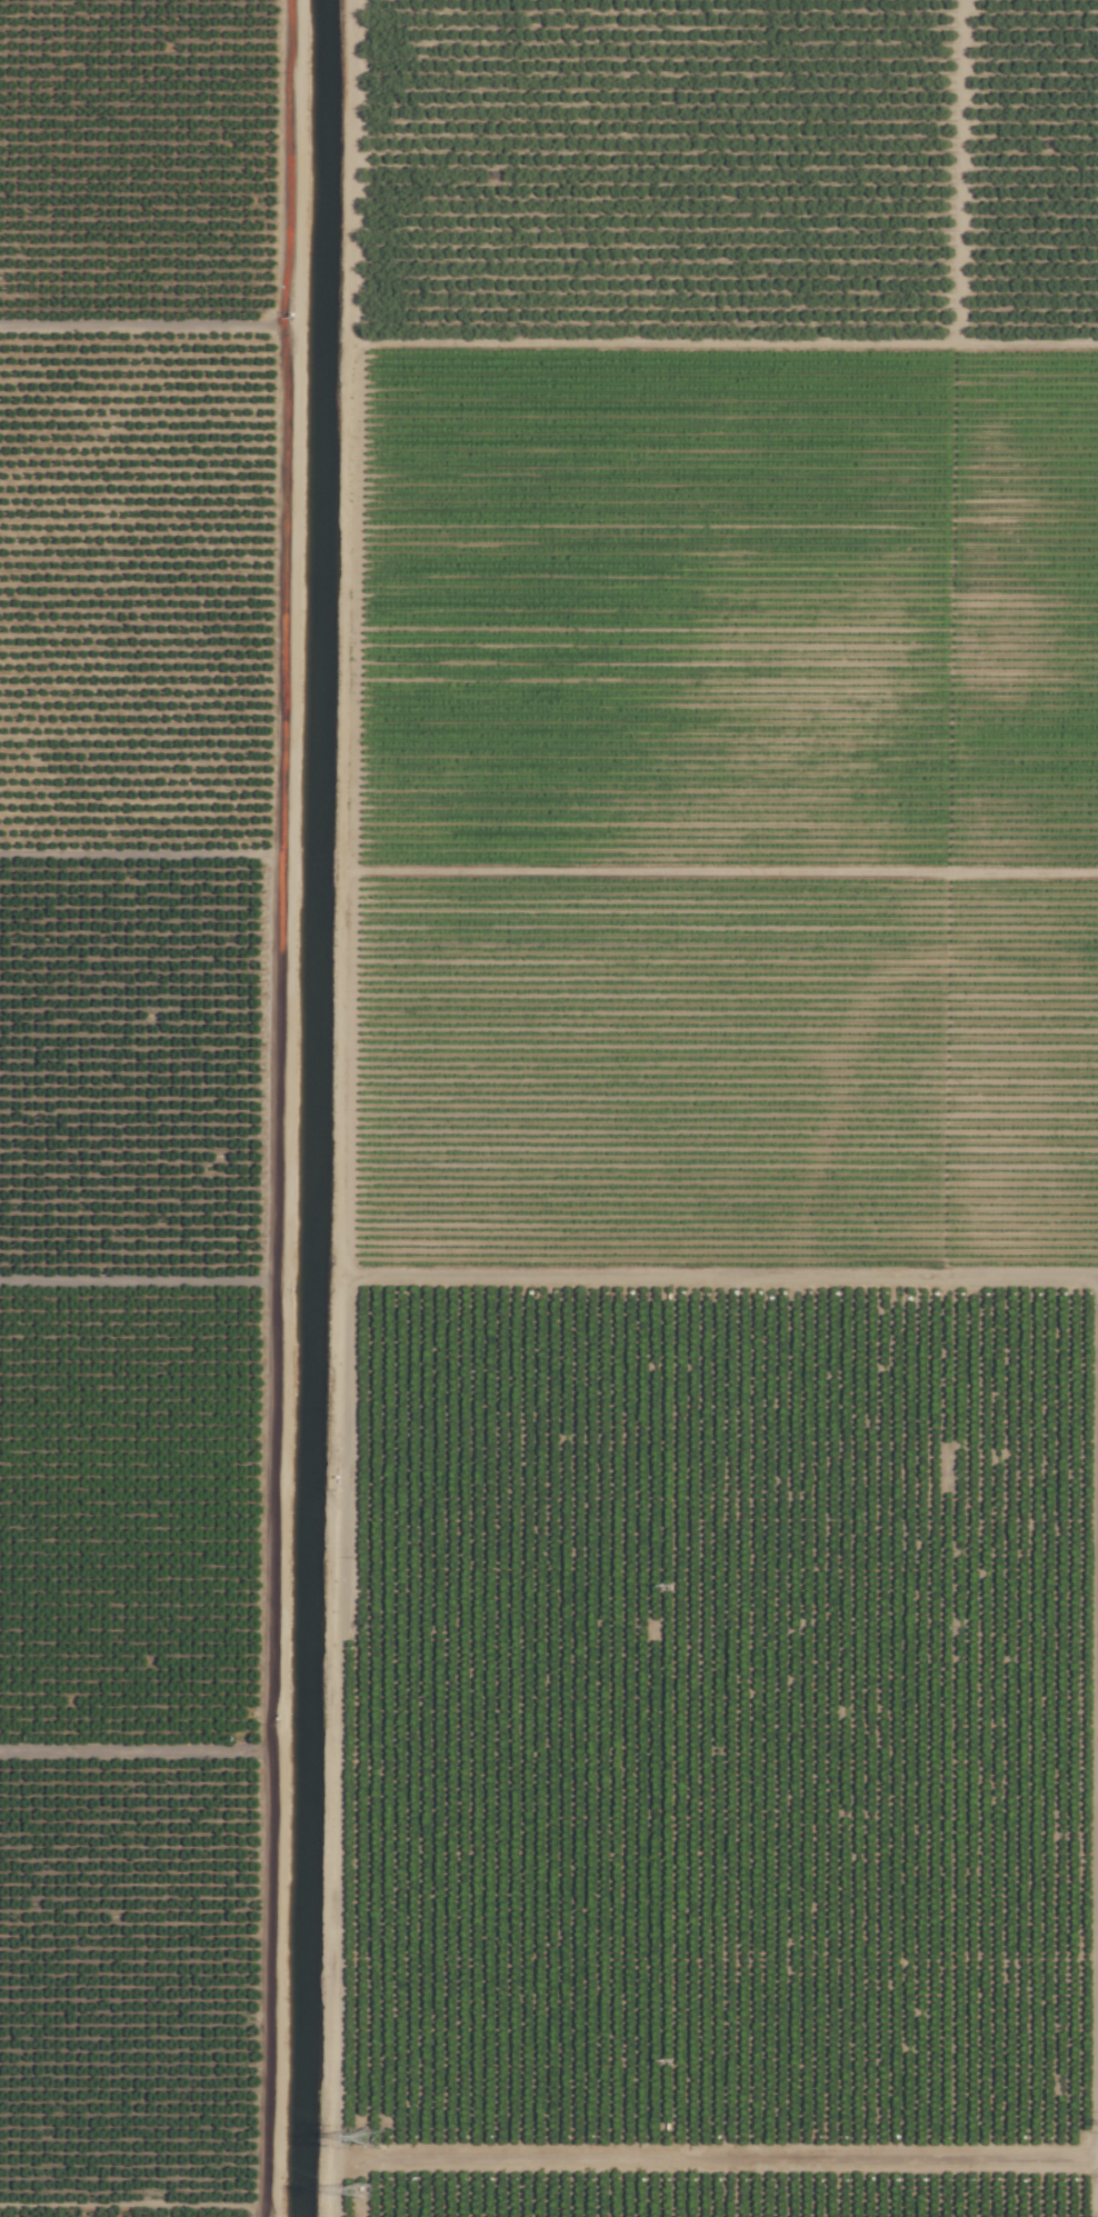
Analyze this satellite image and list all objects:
power tower: (376, 2141)
power tower: (365, 2193)

